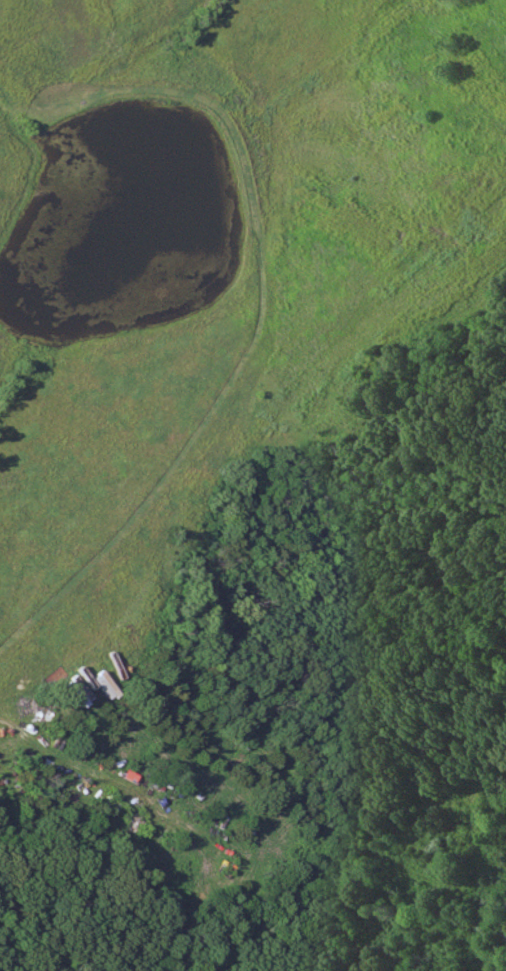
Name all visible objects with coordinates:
building: (137, 778)

